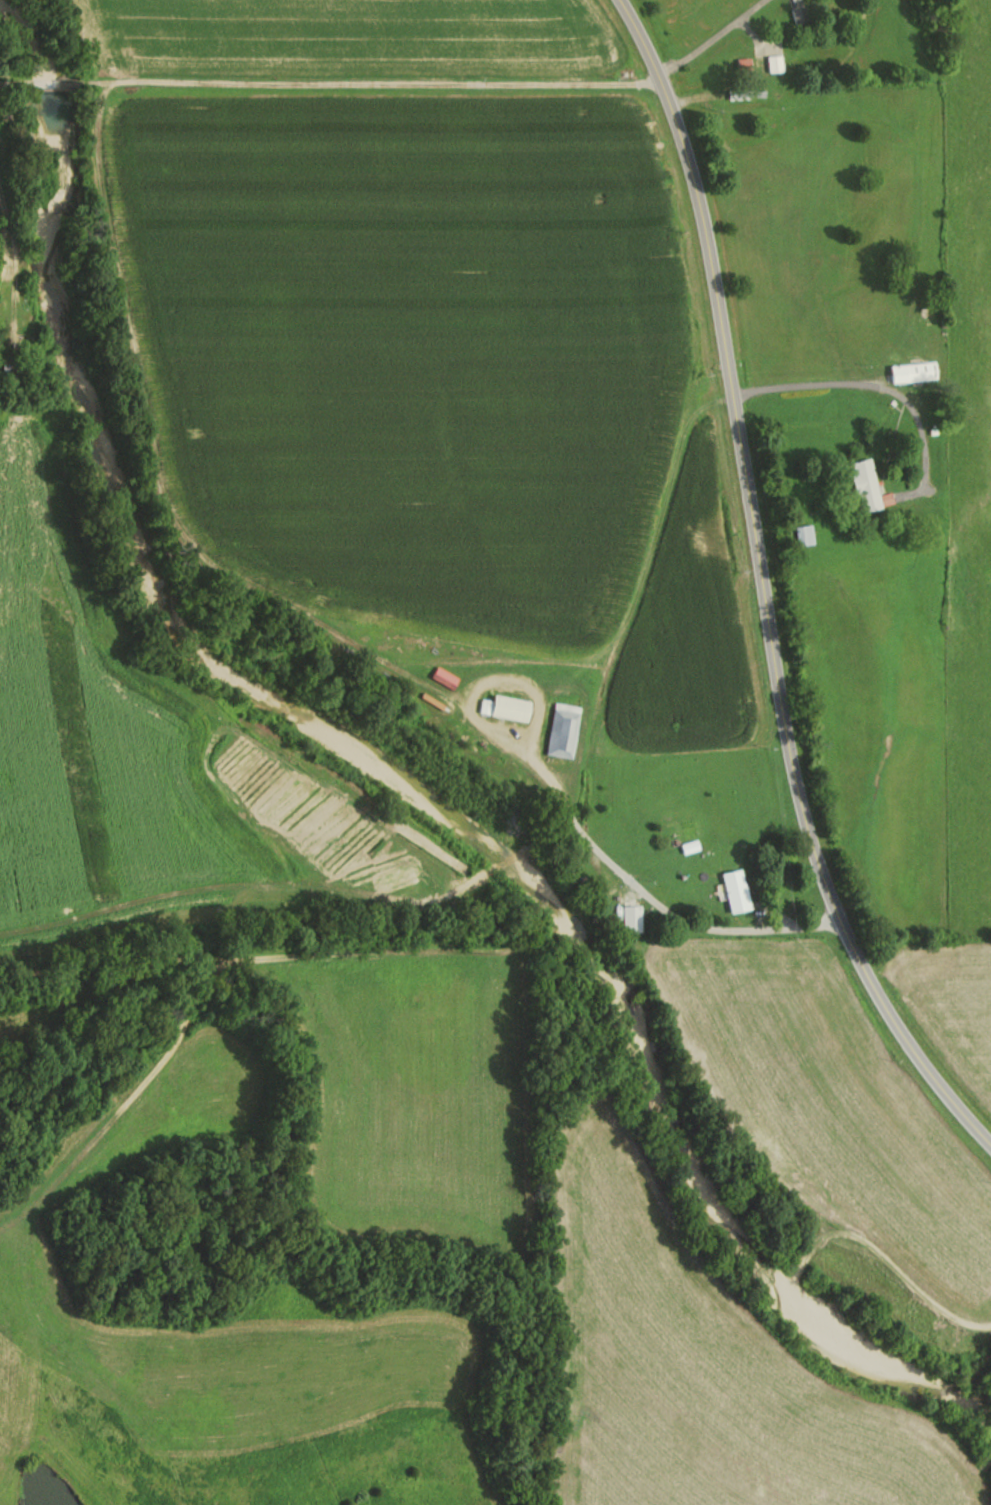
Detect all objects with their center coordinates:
building: (800, 15)
road: (709, 39)
building: (774, 64)
building: (743, 65)
road: (344, 84)
building: (739, 94)
building: (913, 372)
road: (876, 387)
building: (868, 488)
building: (805, 536)
road: (761, 589)
building: (511, 709)
building: (563, 731)
road: (572, 816)
building: (736, 891)
building: (632, 912)

